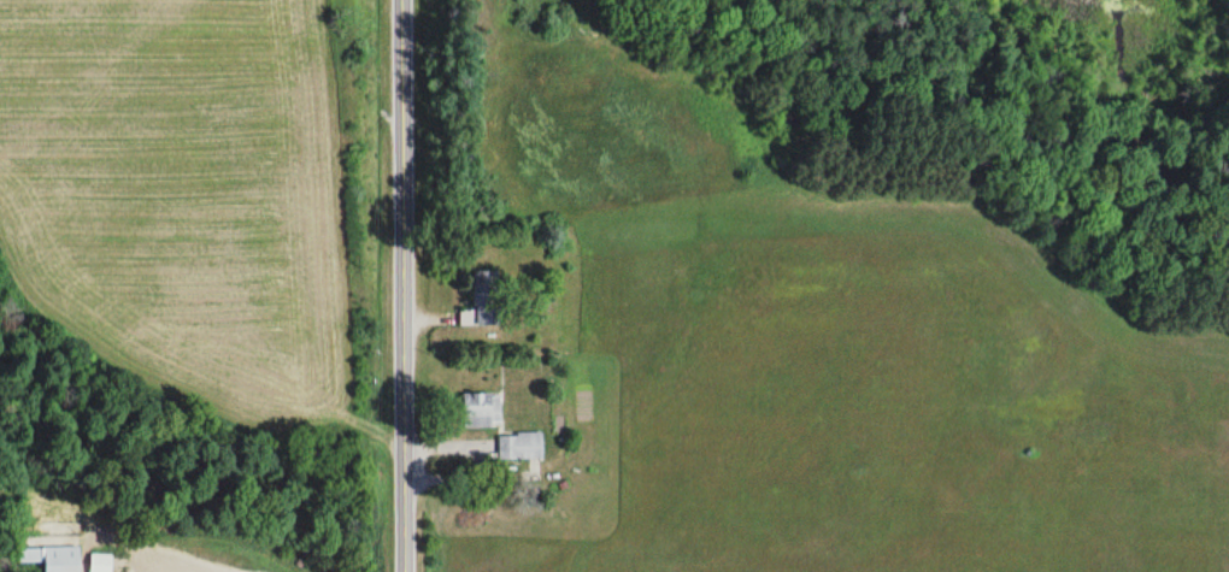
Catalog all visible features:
road: (398, 285)
building: (483, 300)
building: (482, 409)
building: (521, 446)
building: (53, 558)
building: (101, 562)

